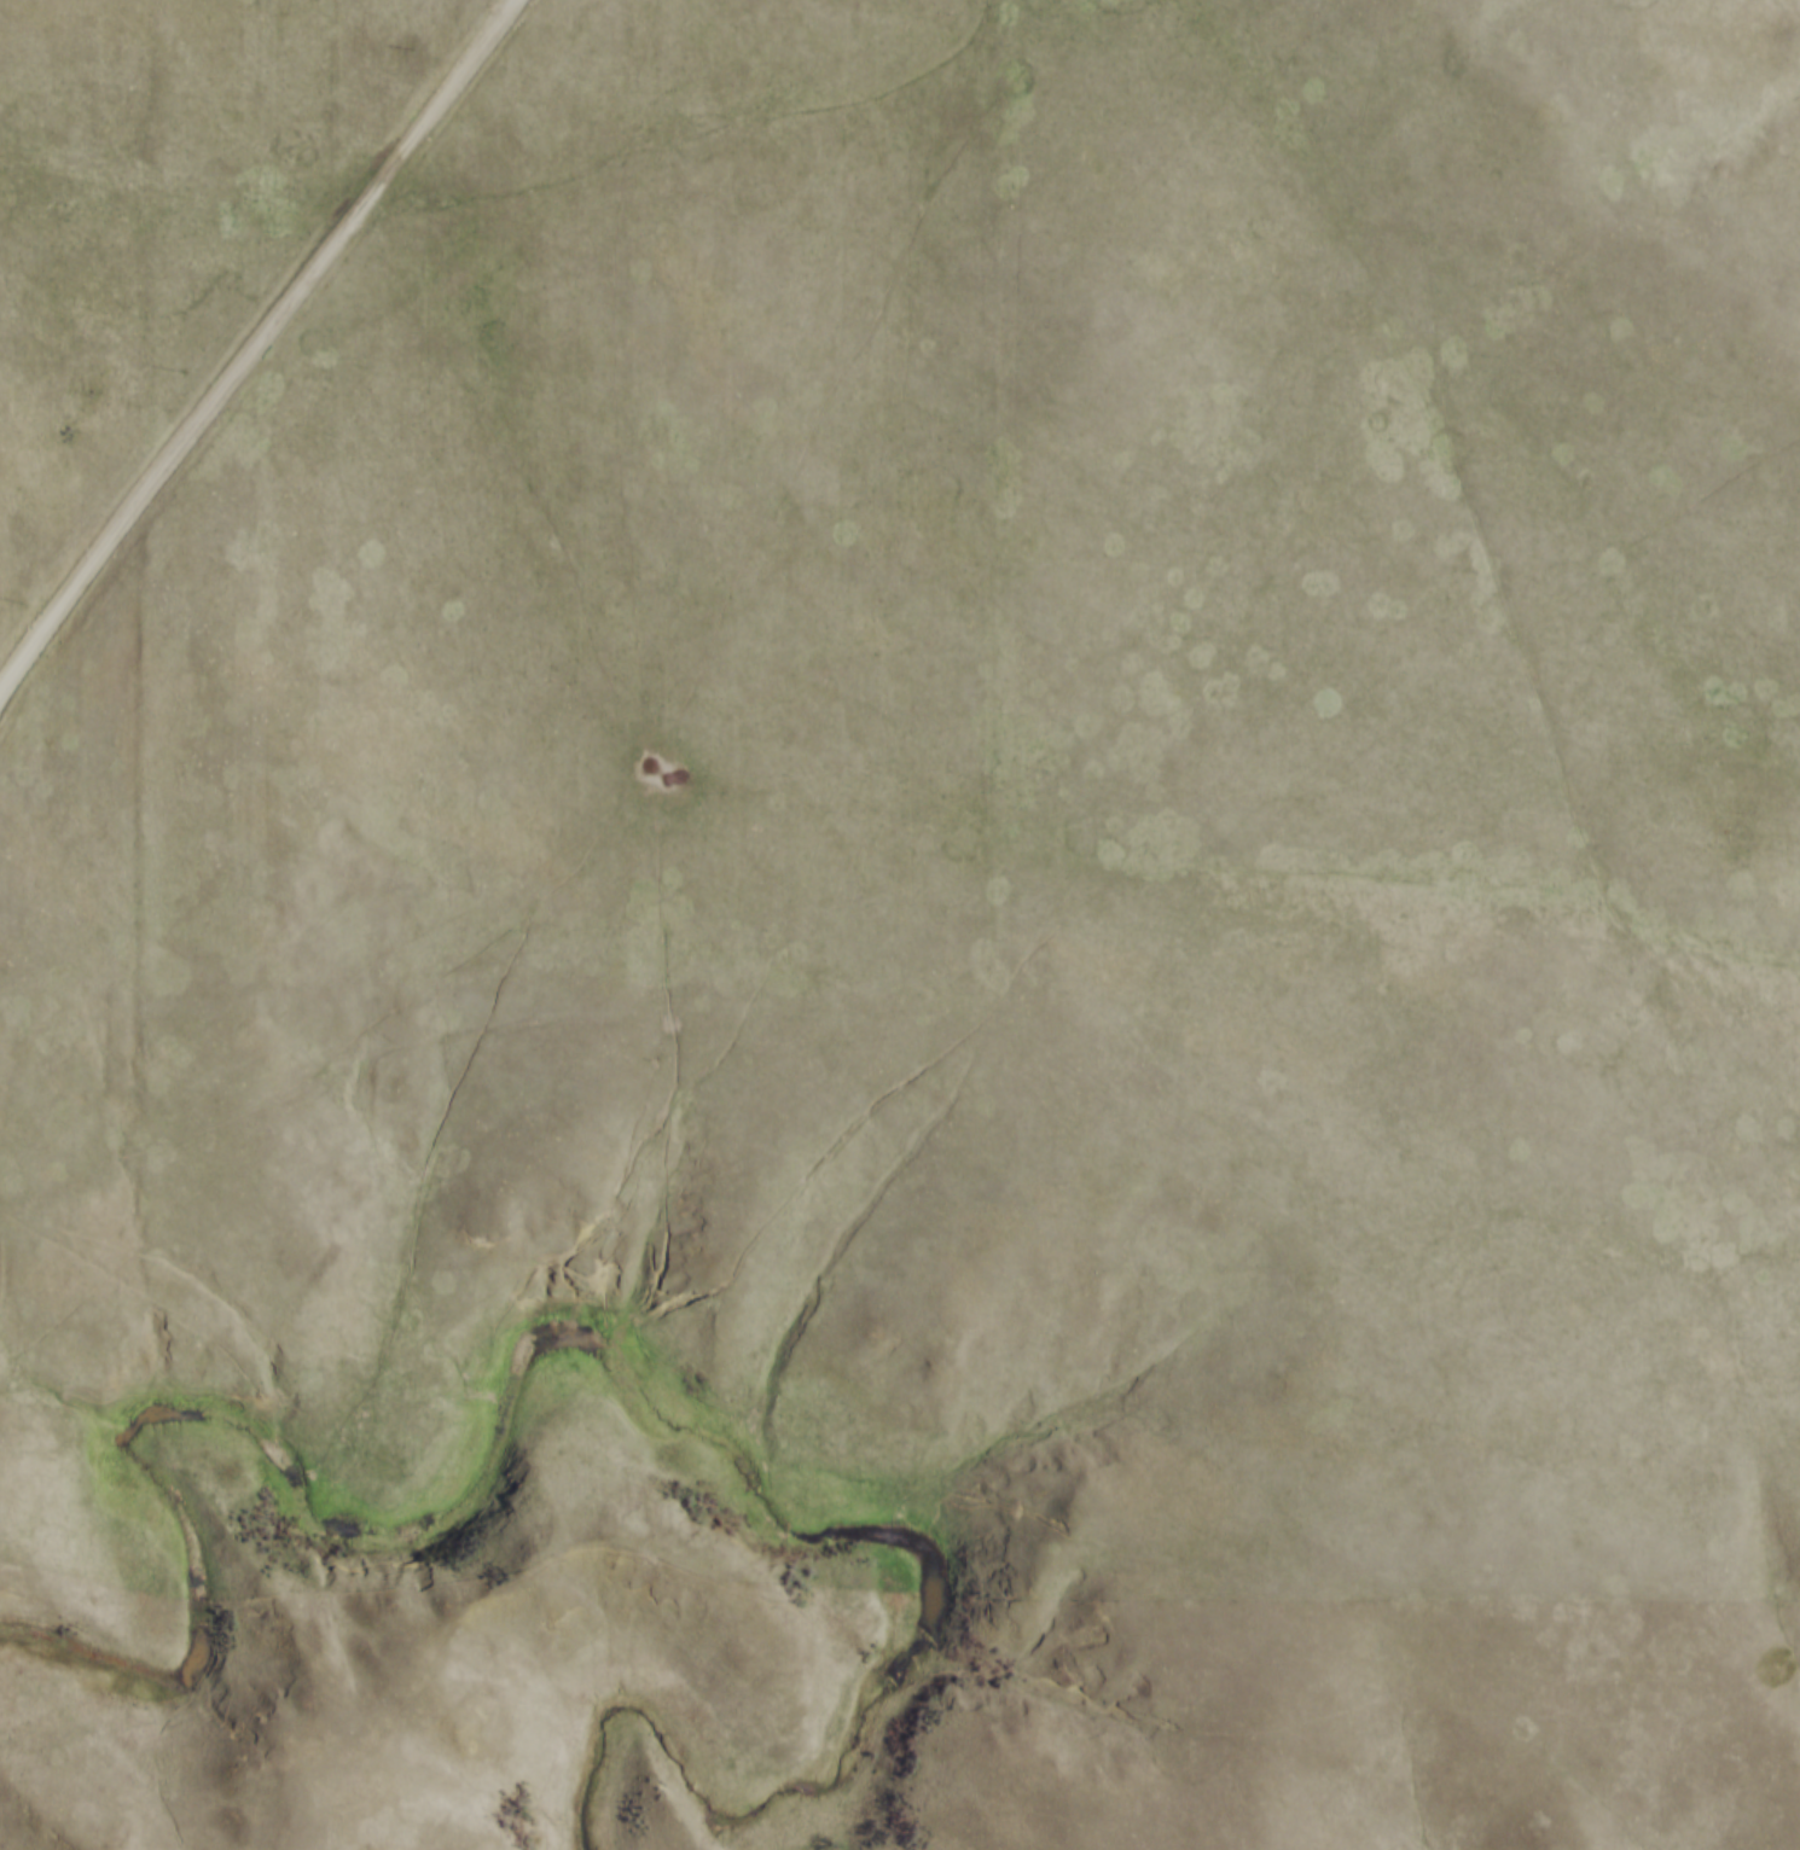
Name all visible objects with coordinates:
road: (254, 348)

